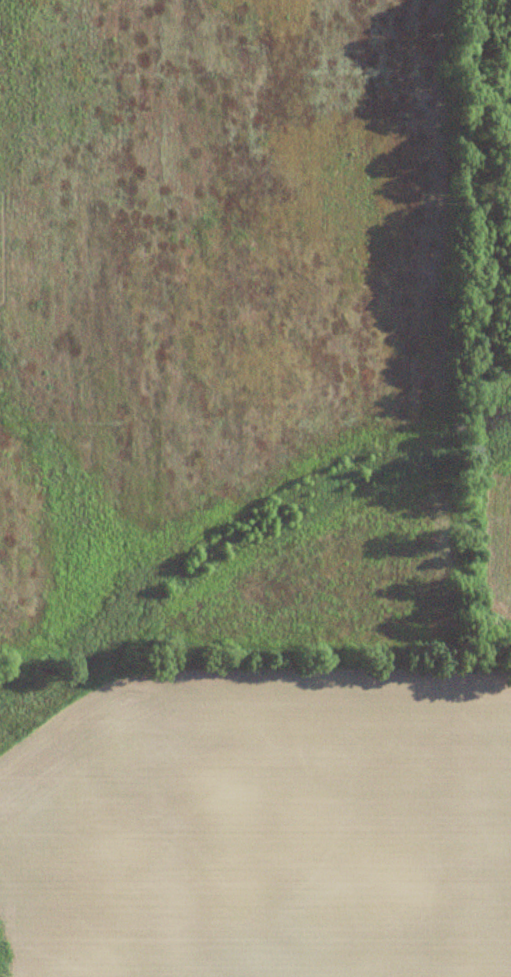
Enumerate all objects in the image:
crop: (259, 826)

